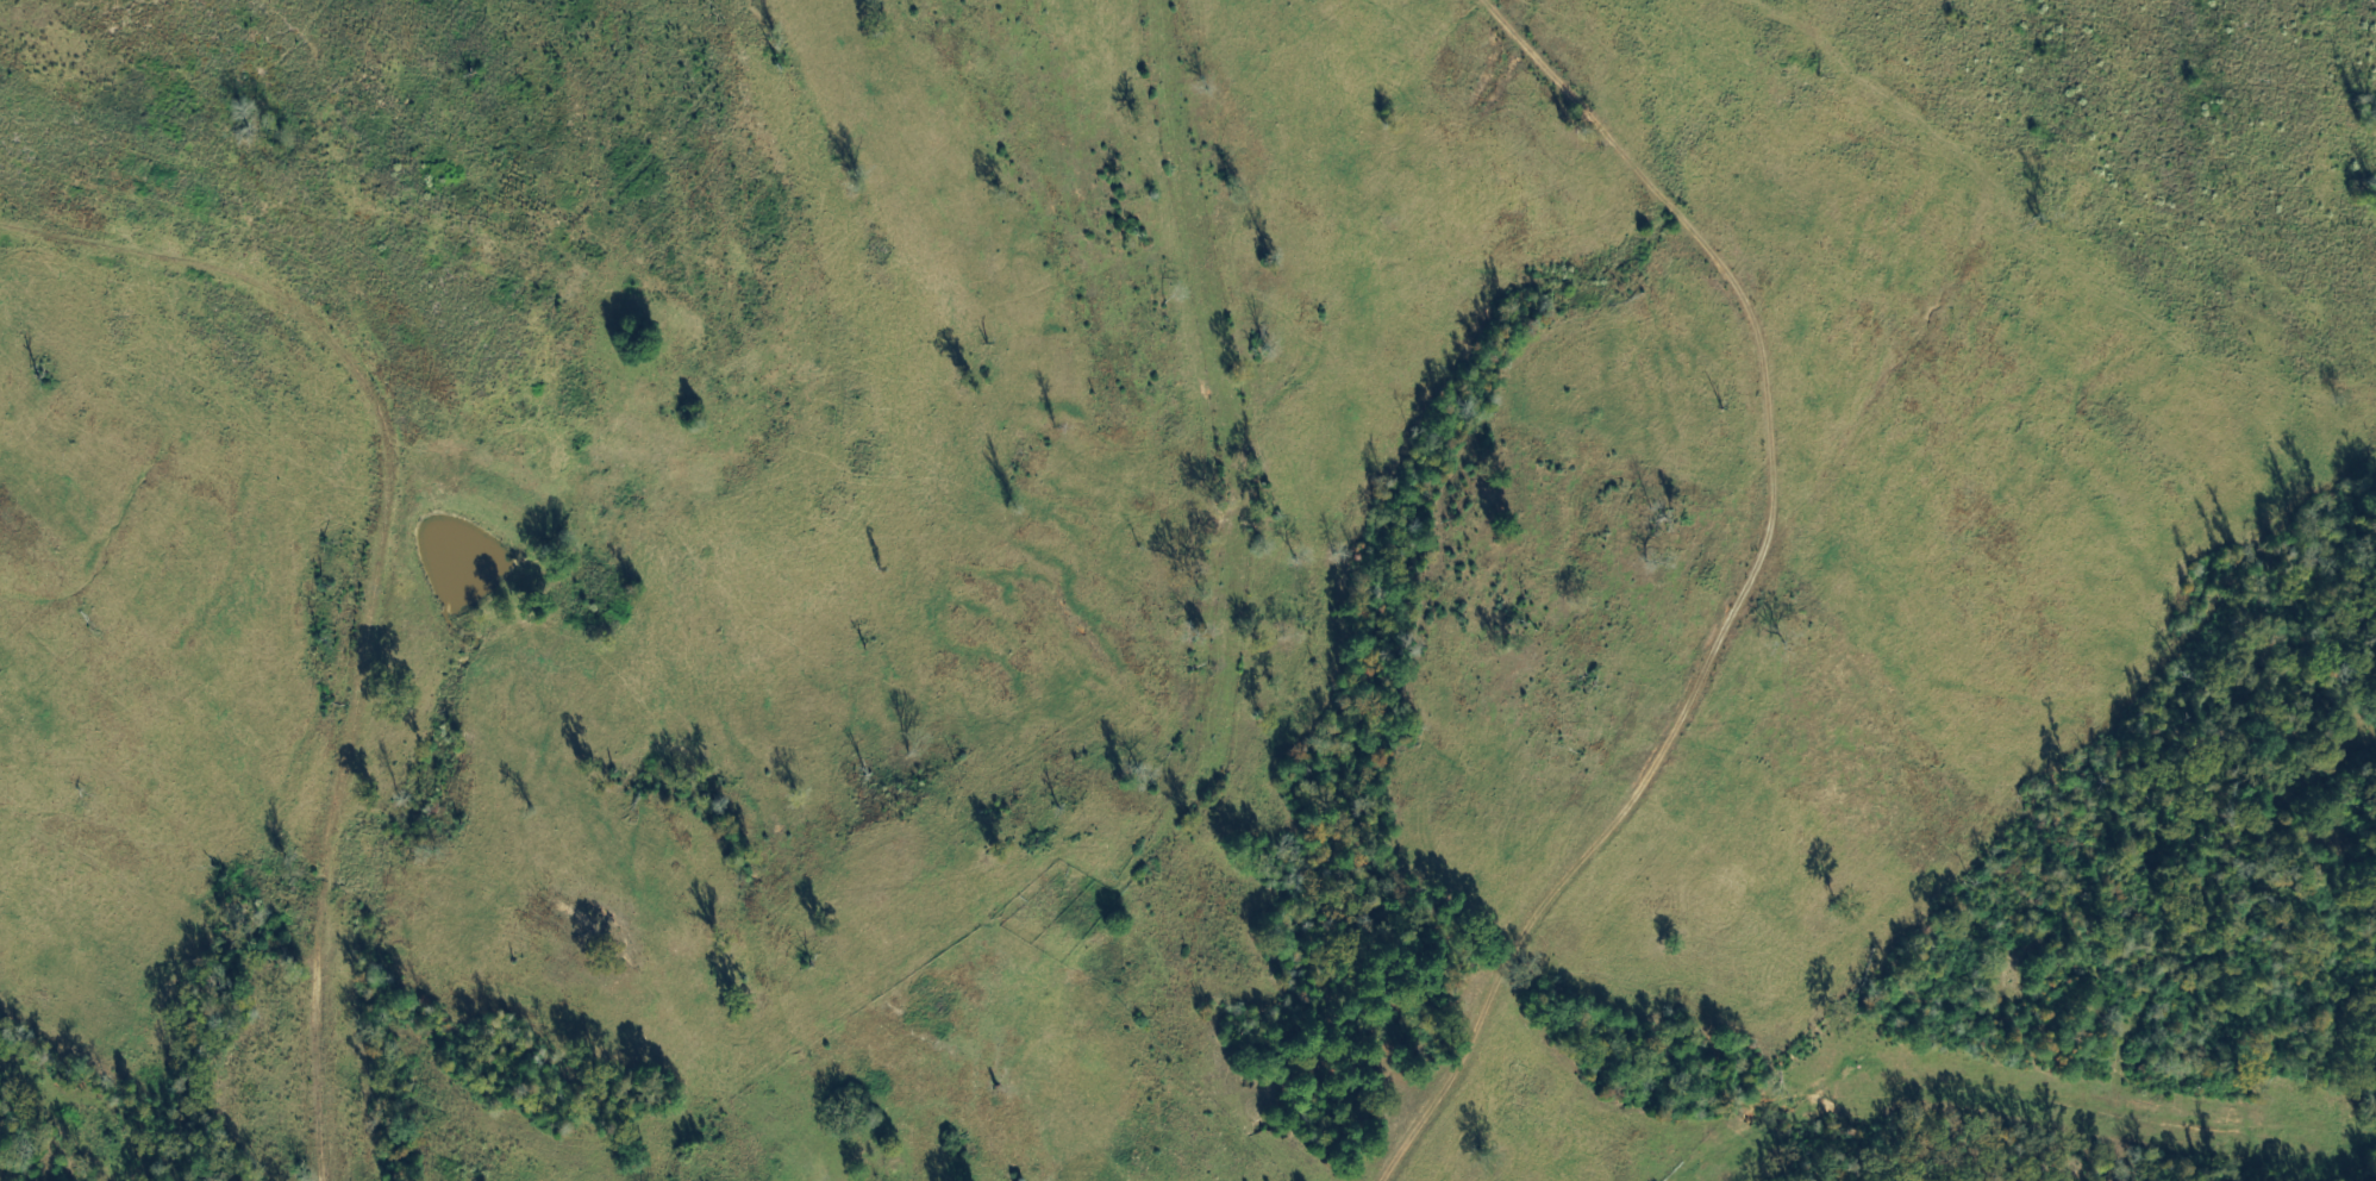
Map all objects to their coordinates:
road: (326, 583)
road: (1736, 585)

